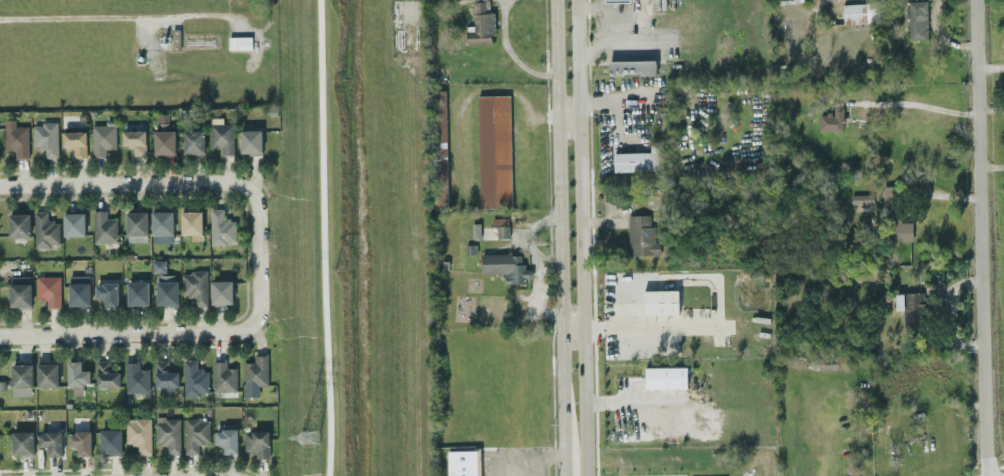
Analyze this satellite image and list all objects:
building: (616, 0)
building: (860, 12)
road: (109, 19)
building: (916, 19)
building: (479, 24)
road: (610, 26)
building: (238, 42)
building: (631, 67)
road: (915, 103)
building: (831, 119)
road: (568, 121)
building: (220, 135)
building: (16, 138)
building: (46, 138)
building: (102, 139)
building: (134, 141)
building: (193, 141)
building: (250, 141)
building: (75, 142)
building: (163, 142)
building: (440, 147)
building: (493, 150)
building: (638, 158)
road: (158, 184)
building: (887, 195)
building: (860, 198)
building: (190, 222)
building: (73, 224)
building: (19, 225)
building: (136, 226)
building: (161, 226)
building: (103, 227)
building: (221, 227)
building: (500, 227)
building: (45, 230)
building: (901, 230)
building: (641, 236)
road: (559, 237)
road: (580, 237)
road: (322, 238)
road: (980, 238)
building: (158, 265)
building: (505, 266)
building: (194, 286)
building: (165, 289)
building: (48, 290)
building: (20, 291)
building: (221, 291)
building: (137, 292)
building: (79, 294)
building: (108, 294)
road: (715, 298)
building: (660, 301)
building: (910, 306)
road: (571, 332)
road: (160, 333)
building: (255, 371)
building: (47, 374)
building: (164, 374)
building: (105, 375)
building: (77, 376)
building: (223, 376)
building: (135, 377)
building: (665, 377)
building: (193, 378)
building: (21, 379)
building: (167, 433)
building: (138, 434)
building: (194, 434)
power tower: (305, 437)
building: (226, 439)
building: (51, 442)
building: (80, 442)
building: (110, 442)
building: (256, 442)
building: (22, 443)
building: (462, 463)

